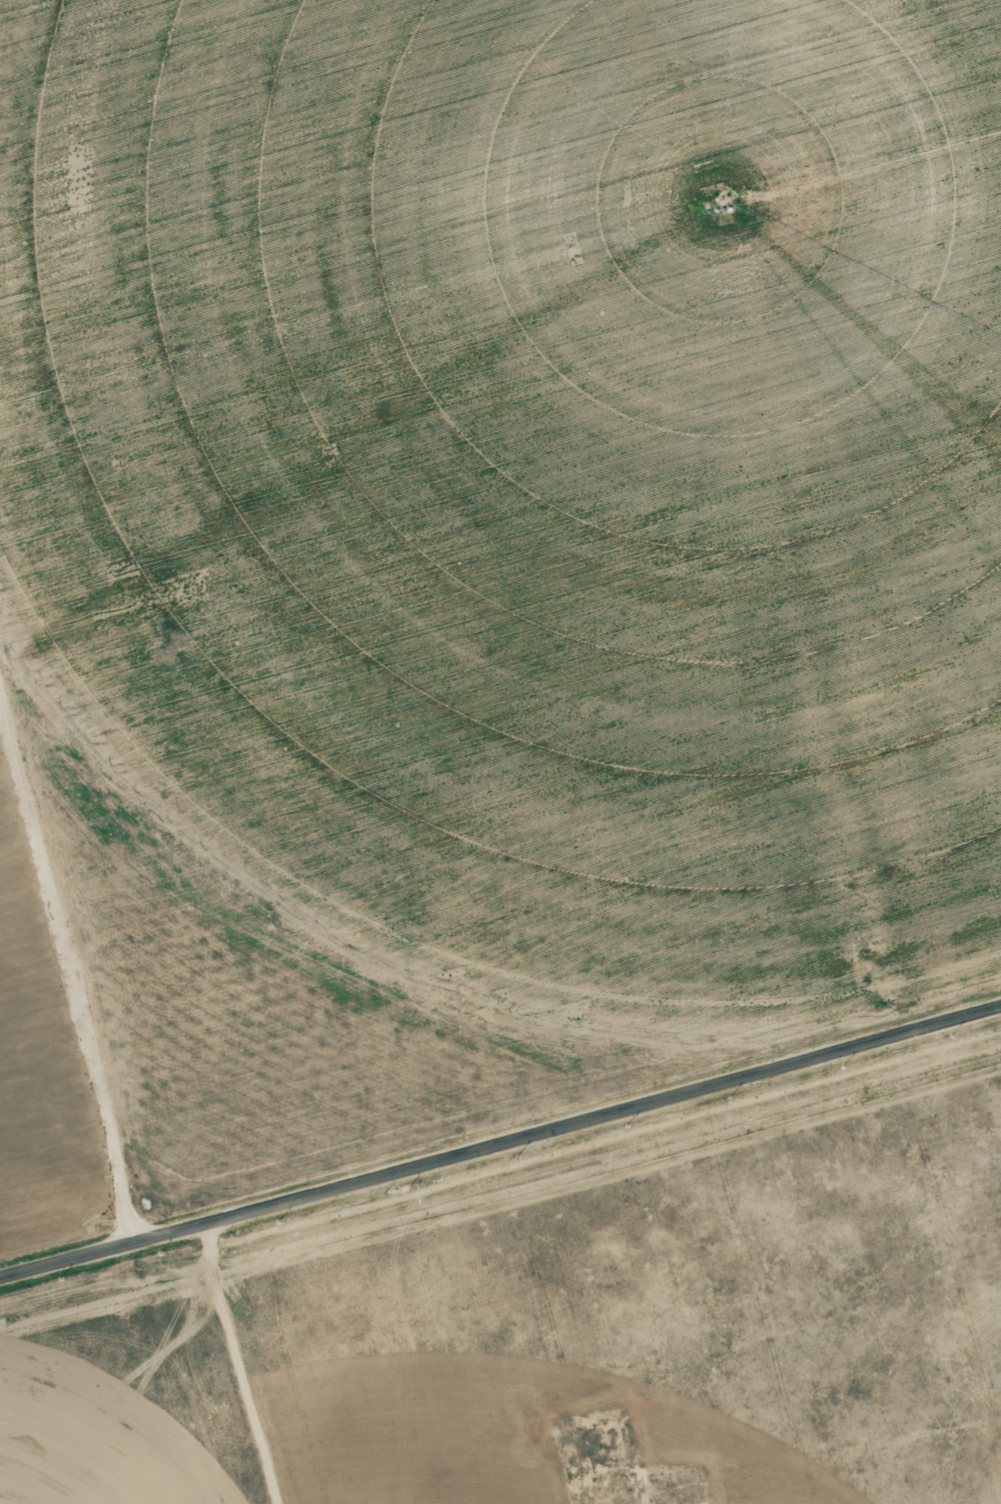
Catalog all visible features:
road: (600, 1111)
road: (177, 1225)
road: (77, 1248)
road: (239, 1363)

